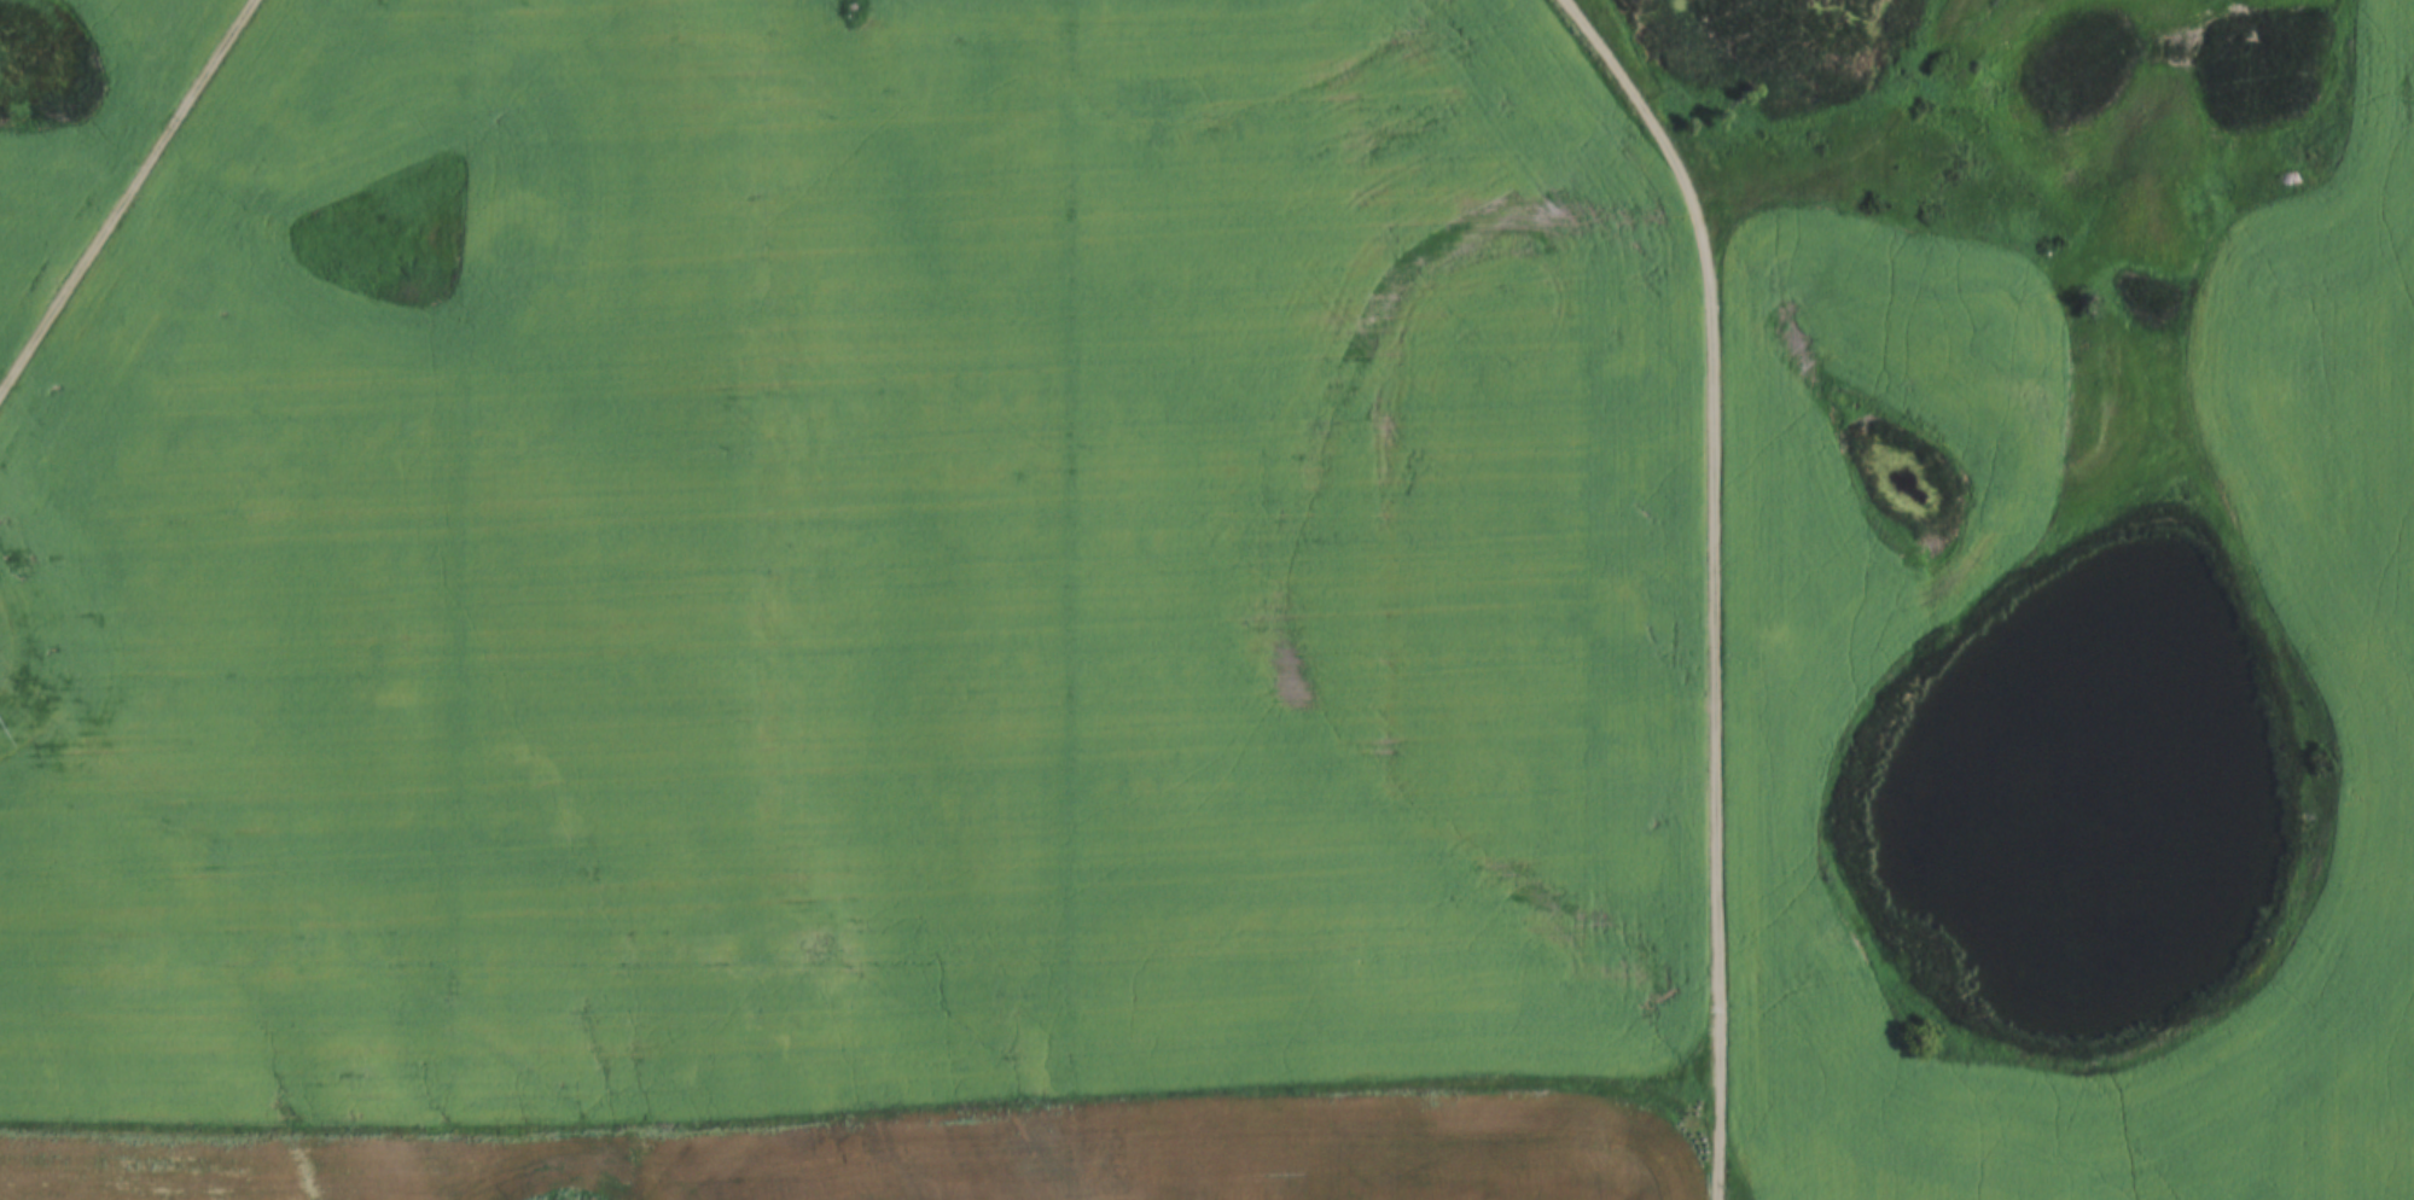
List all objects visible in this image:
road: (115, 180)
road: (1694, 582)

